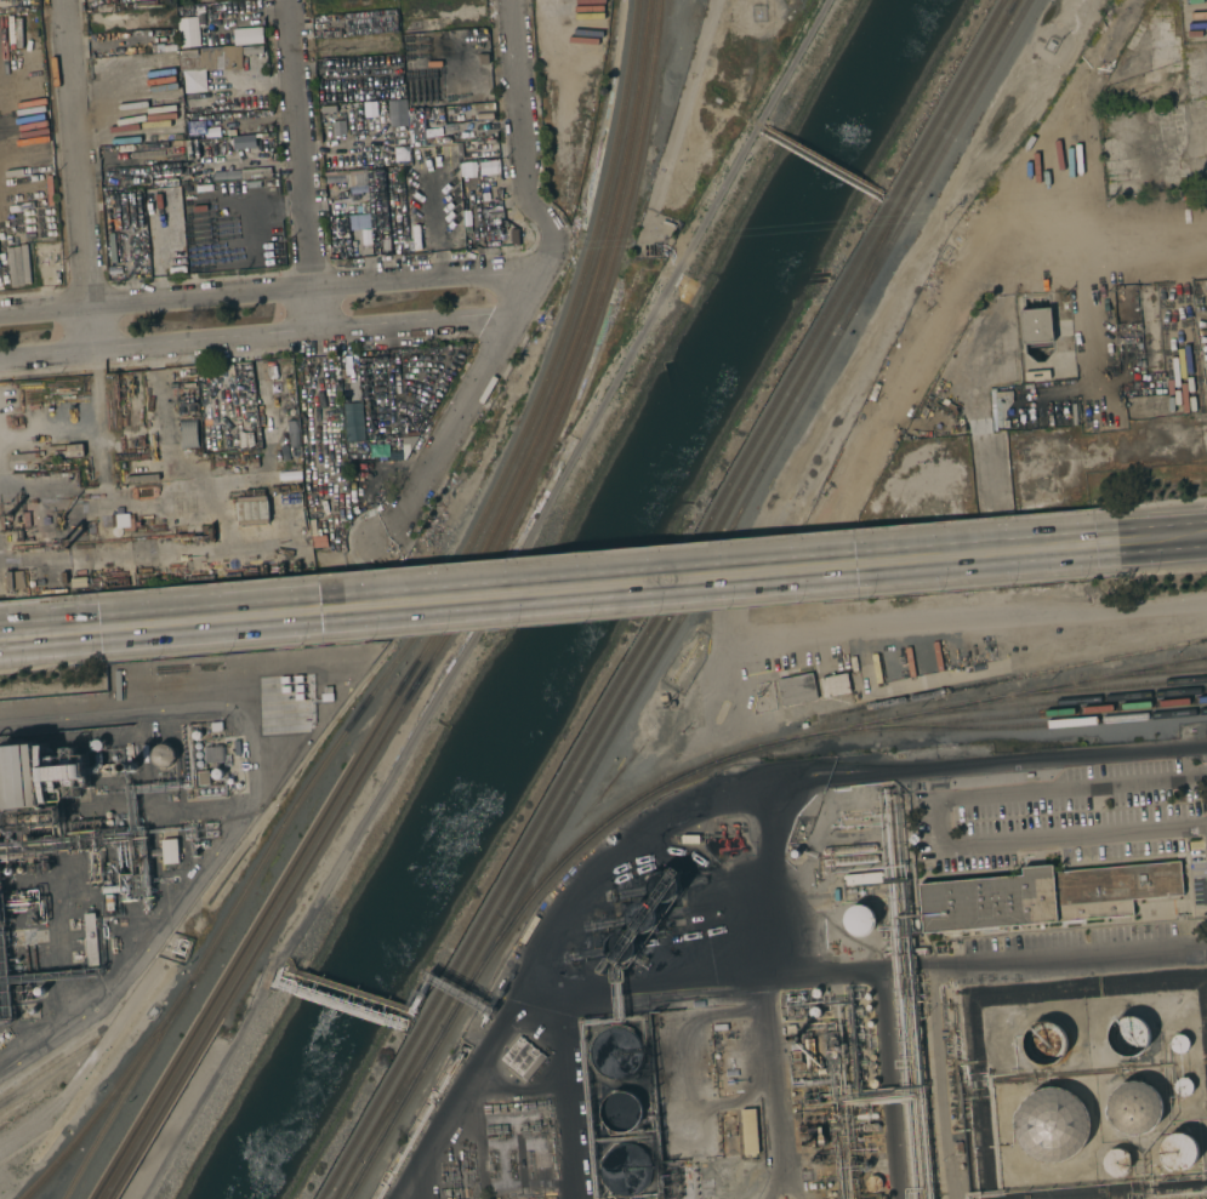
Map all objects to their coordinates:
railway: (1013, 7)
railway: (1014, 7)
building: (187, 32)
building: (247, 35)
building: (254, 50)
building: (220, 58)
building: (328, 109)
building: (488, 110)
building: (369, 113)
building: (416, 120)
road: (1059, 125)
building: (398, 130)
building: (417, 137)
building: (155, 145)
road: (302, 154)
road: (522, 154)
road: (74, 167)
building: (347, 175)
railway: (619, 194)
building: (172, 196)
building: (154, 199)
building: (124, 200)
building: (363, 207)
building: (493, 213)
building: (233, 223)
building: (416, 236)
building: (405, 241)
road: (1097, 241)
building: (467, 242)
building: (386, 244)
road: (159, 261)
railway: (876, 261)
building: (176, 269)
road: (423, 301)
road: (159, 302)
road: (1097, 316)
building: (1036, 325)
road: (44, 338)
road: (206, 342)
building: (1037, 375)
railway: (564, 400)
road: (457, 418)
building: (189, 433)
building: (408, 441)
road: (556, 485)
railway: (751, 491)
building: (251, 510)
railway: (480, 519)
building: (38, 523)
road: (1162, 539)
railway: (467, 575)
building: (13, 579)
road: (631, 587)
railway: (664, 599)
railway: (672, 606)
road: (972, 620)
road: (72, 633)
railway: (1190, 661)
railway: (1143, 674)
railway: (1013, 678)
building: (835, 685)
building: (796, 689)
railway: (1097, 690)
railway: (1052, 703)
railway: (1003, 716)
railway: (1041, 725)
building: (197, 735)
railway: (796, 740)
building: (97, 746)
building: (198, 746)
building: (199, 754)
building: (163, 755)
building: (199, 763)
chimney: (131, 766)
building: (217, 773)
building: (22, 776)
building: (204, 777)
road: (701, 801)
building: (108, 815)
building: (34, 818)
building: (108, 823)
road: (1030, 841)
building: (89, 843)
building: (849, 849)
building: (170, 851)
railway: (537, 856)
building: (849, 860)
building: (21, 869)
building: (8, 870)
building: (862, 878)
building: (665, 886)
building: (114, 889)
building: (1043, 896)
building: (109, 902)
building: (1, 910)
building: (643, 917)
building: (33, 919)
building: (859, 920)
building: (91, 940)
building: (622, 948)
road: (292, 969)
railway: (229, 978)
railway: (241, 981)
road: (352, 989)
building: (40, 990)
building: (815, 993)
building: (866, 997)
road: (405, 1006)
building: (867, 1007)
building: (32, 1010)
building: (801, 1011)
building: (790, 1012)
building: (815, 1012)
building: (869, 1023)
building: (1128, 1035)
storage tank: (1128, 1035)
building: (795, 1038)
building: (1043, 1044)
storage tank: (1043, 1044)
building: (1179, 1044)
storage tank: (1179, 1044)
building: (835, 1047)
building: (615, 1052)
building: (871, 1057)
building: (523, 1058)
building: (872, 1066)
building: (872, 1083)
building: (1183, 1086)
storage tank: (1183, 1086)
railway: (127, 1090)
railway: (410, 1091)
railway: (113, 1095)
railway: (402, 1095)
building: (1134, 1108)
storage tank: (1134, 1108)
building: (620, 1112)
building: (866, 1117)
building: (1052, 1125)
storage tank: (1052, 1125)
building: (870, 1127)
building: (750, 1132)
building: (805, 1143)
building: (957, 1148)
building: (1179, 1152)
storage tank: (1179, 1152)
building: (1116, 1163)
storage tank: (1116, 1163)
building: (626, 1170)
power plant: (406, 1182)
building: (872, 1183)
building: (815, 1186)

